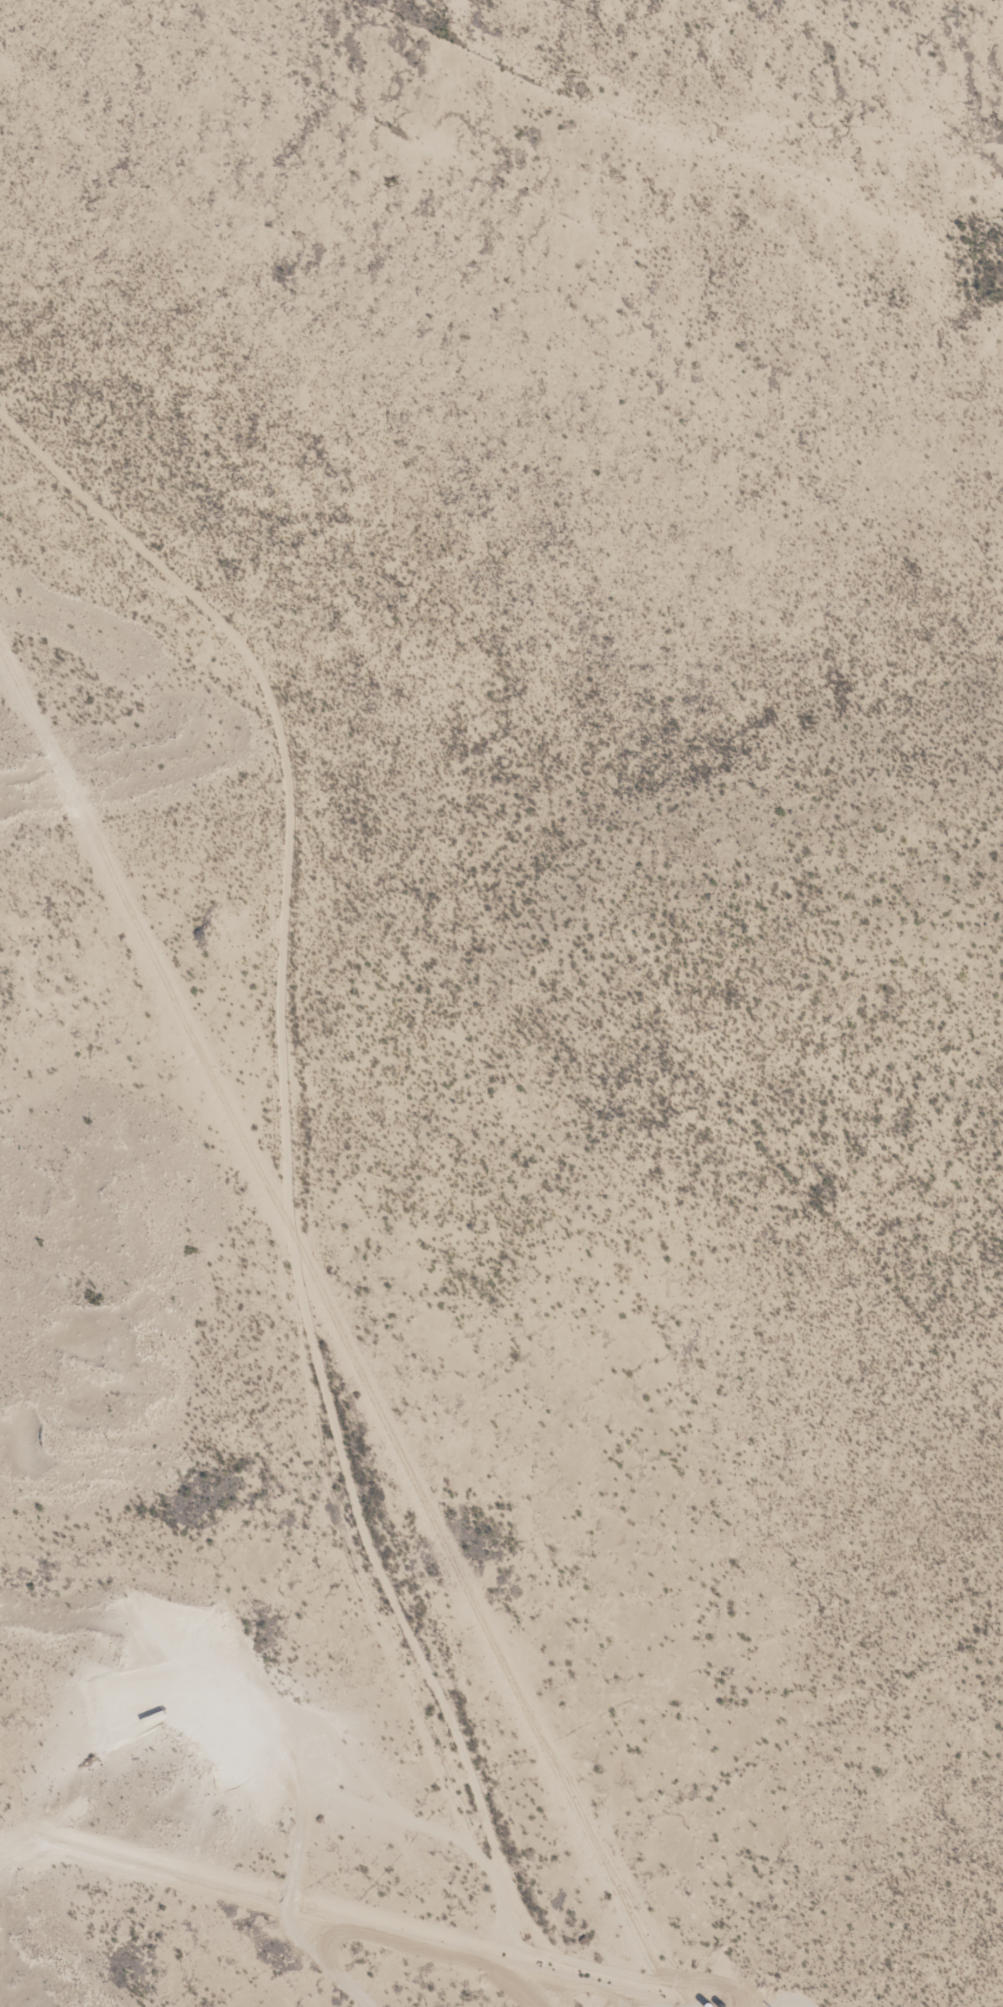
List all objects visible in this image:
road: (278, 1199)

